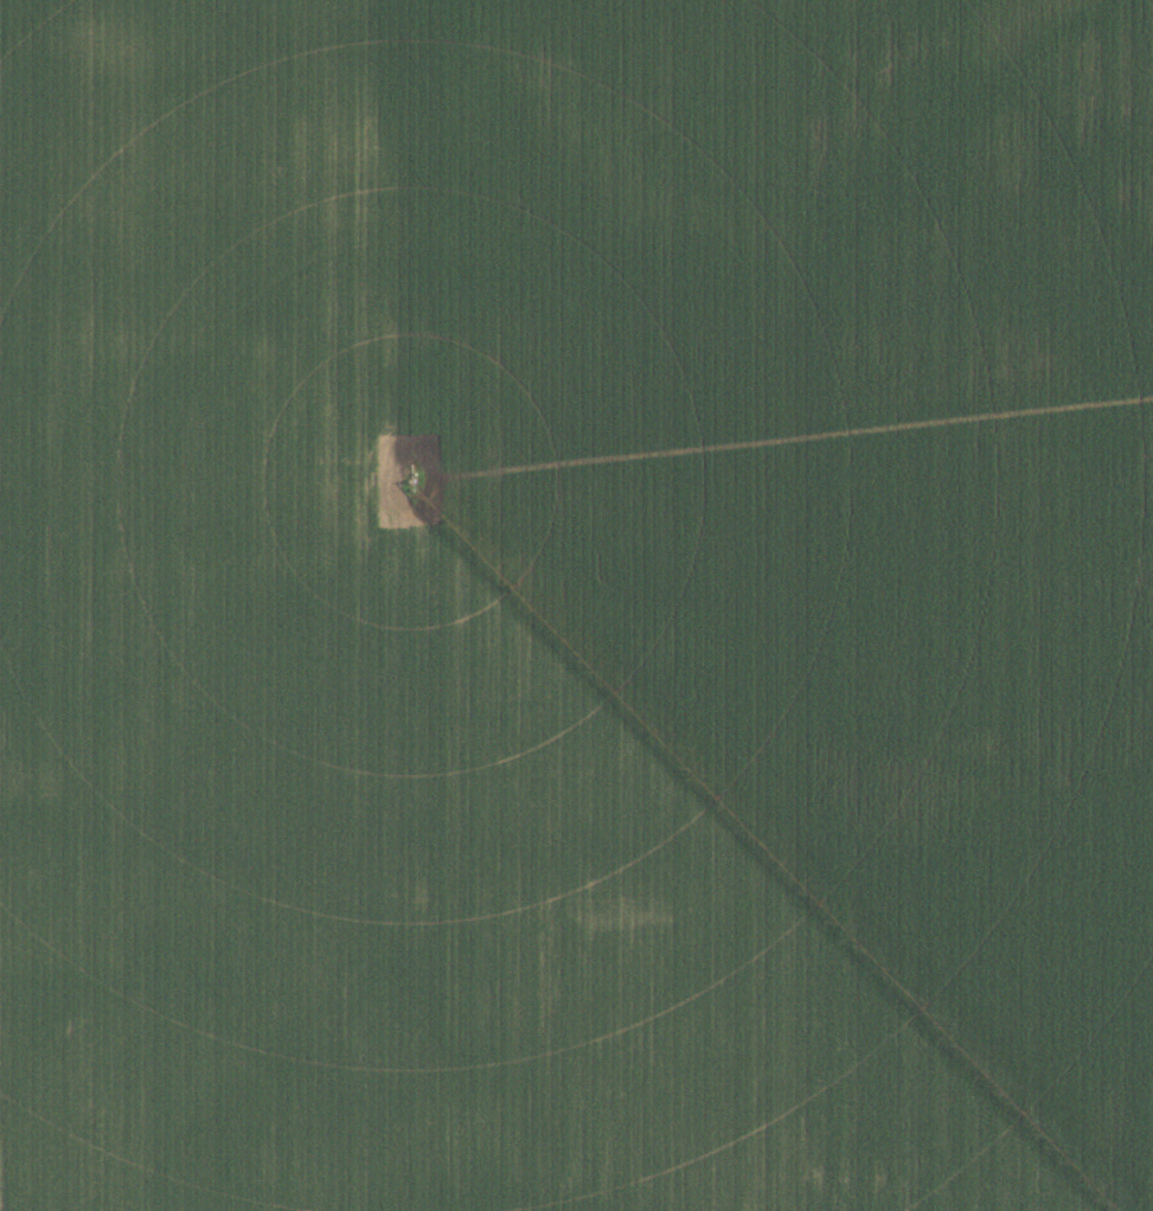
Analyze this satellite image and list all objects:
crop: (576, 605)

